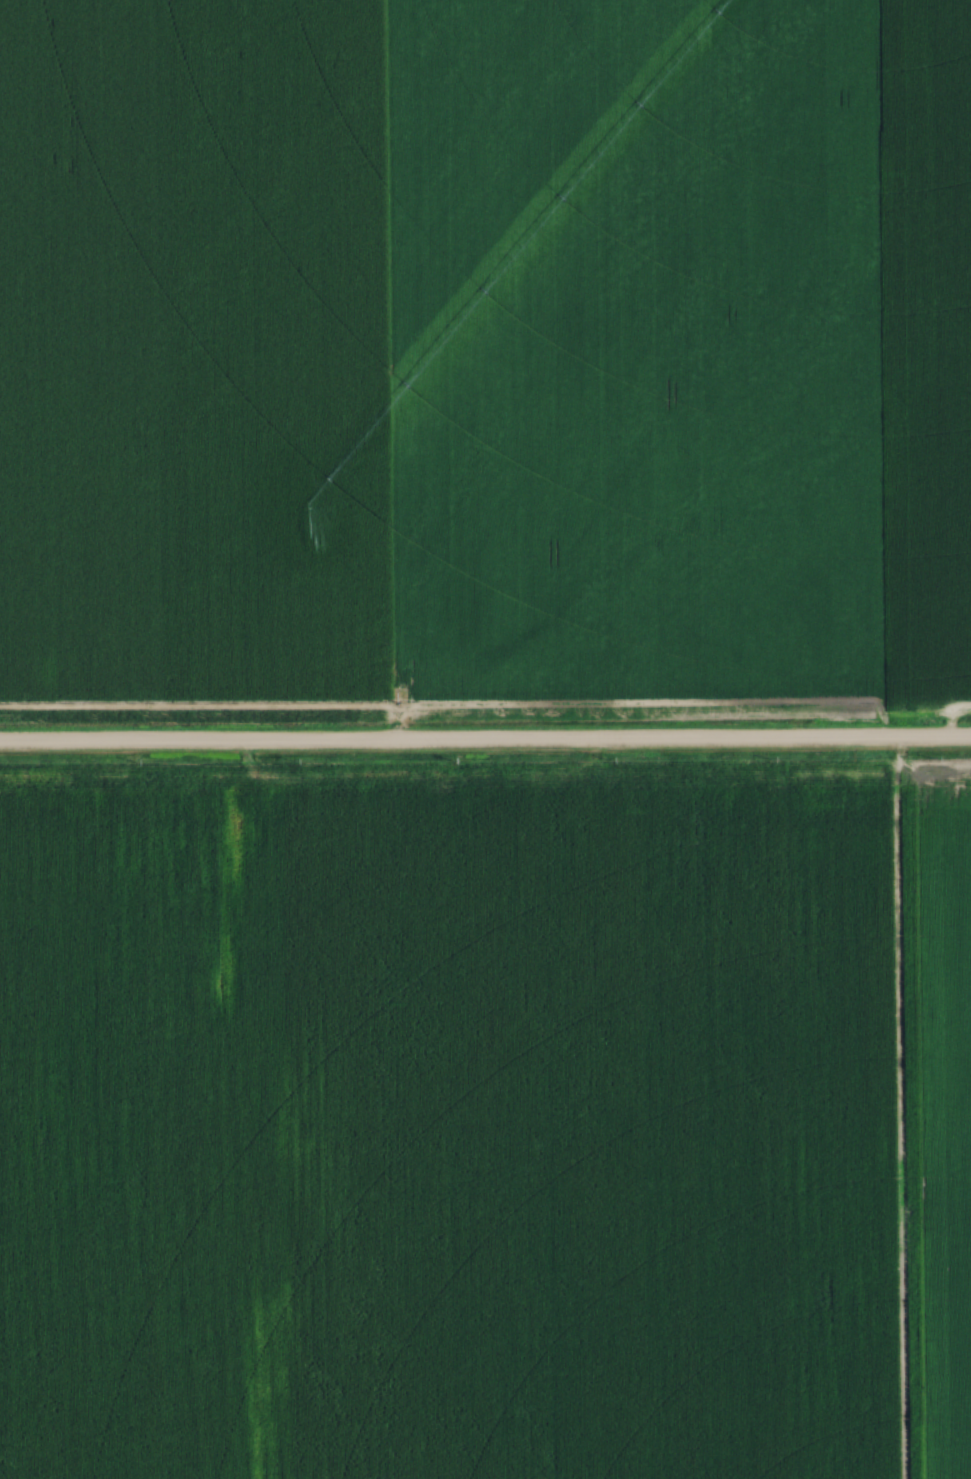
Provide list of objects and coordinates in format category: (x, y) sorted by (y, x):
road: (485, 746)

